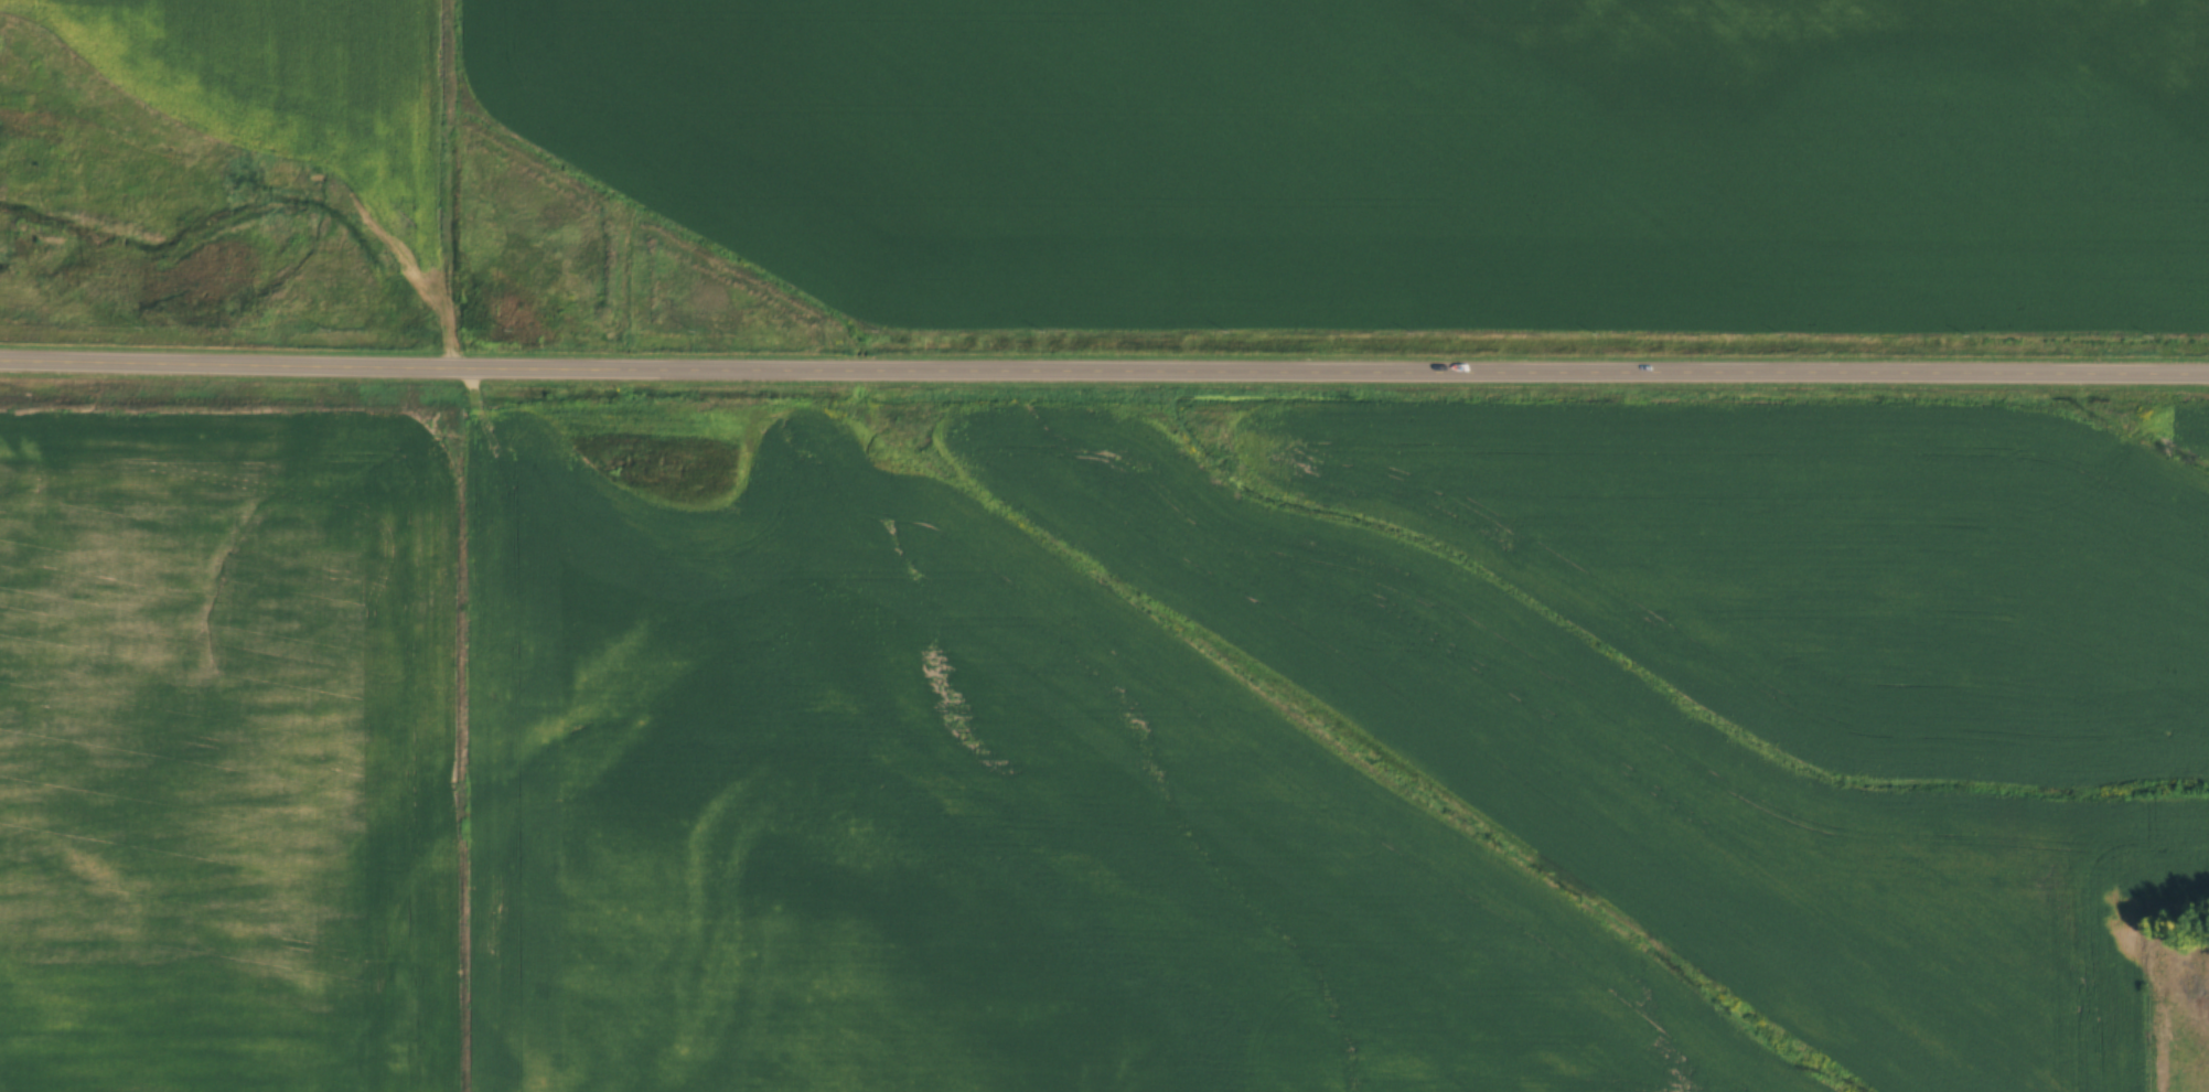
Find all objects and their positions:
road: (1104, 373)

